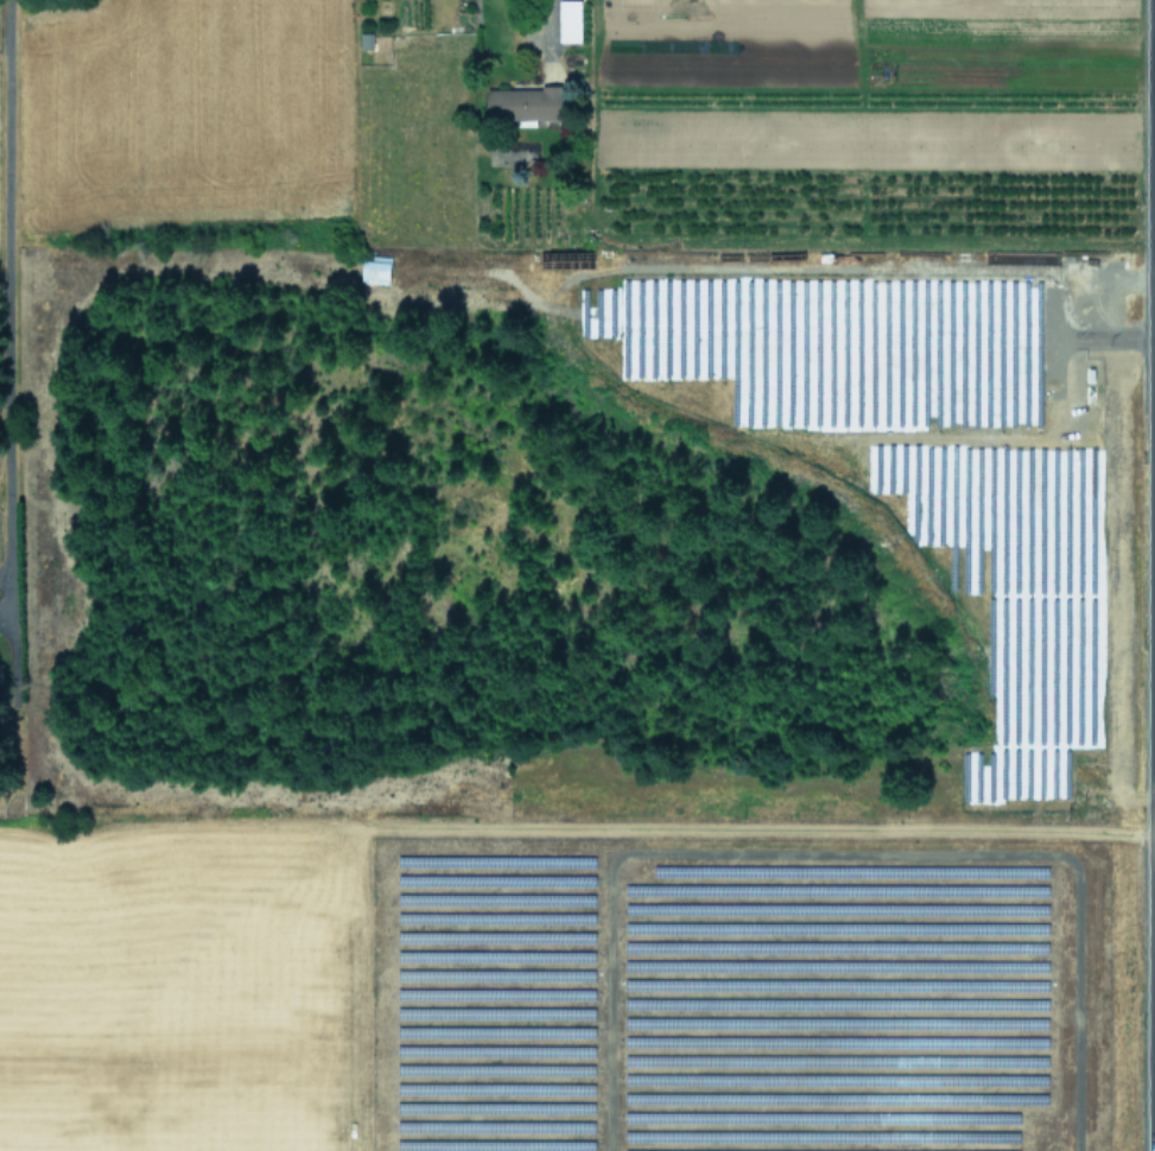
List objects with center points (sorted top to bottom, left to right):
road: (545, 17)
building: (570, 20)
building: (525, 102)
building: (375, 268)
road: (1154, 268)
road: (12, 292)
crop: (577, 575)
building: (0, 673)

